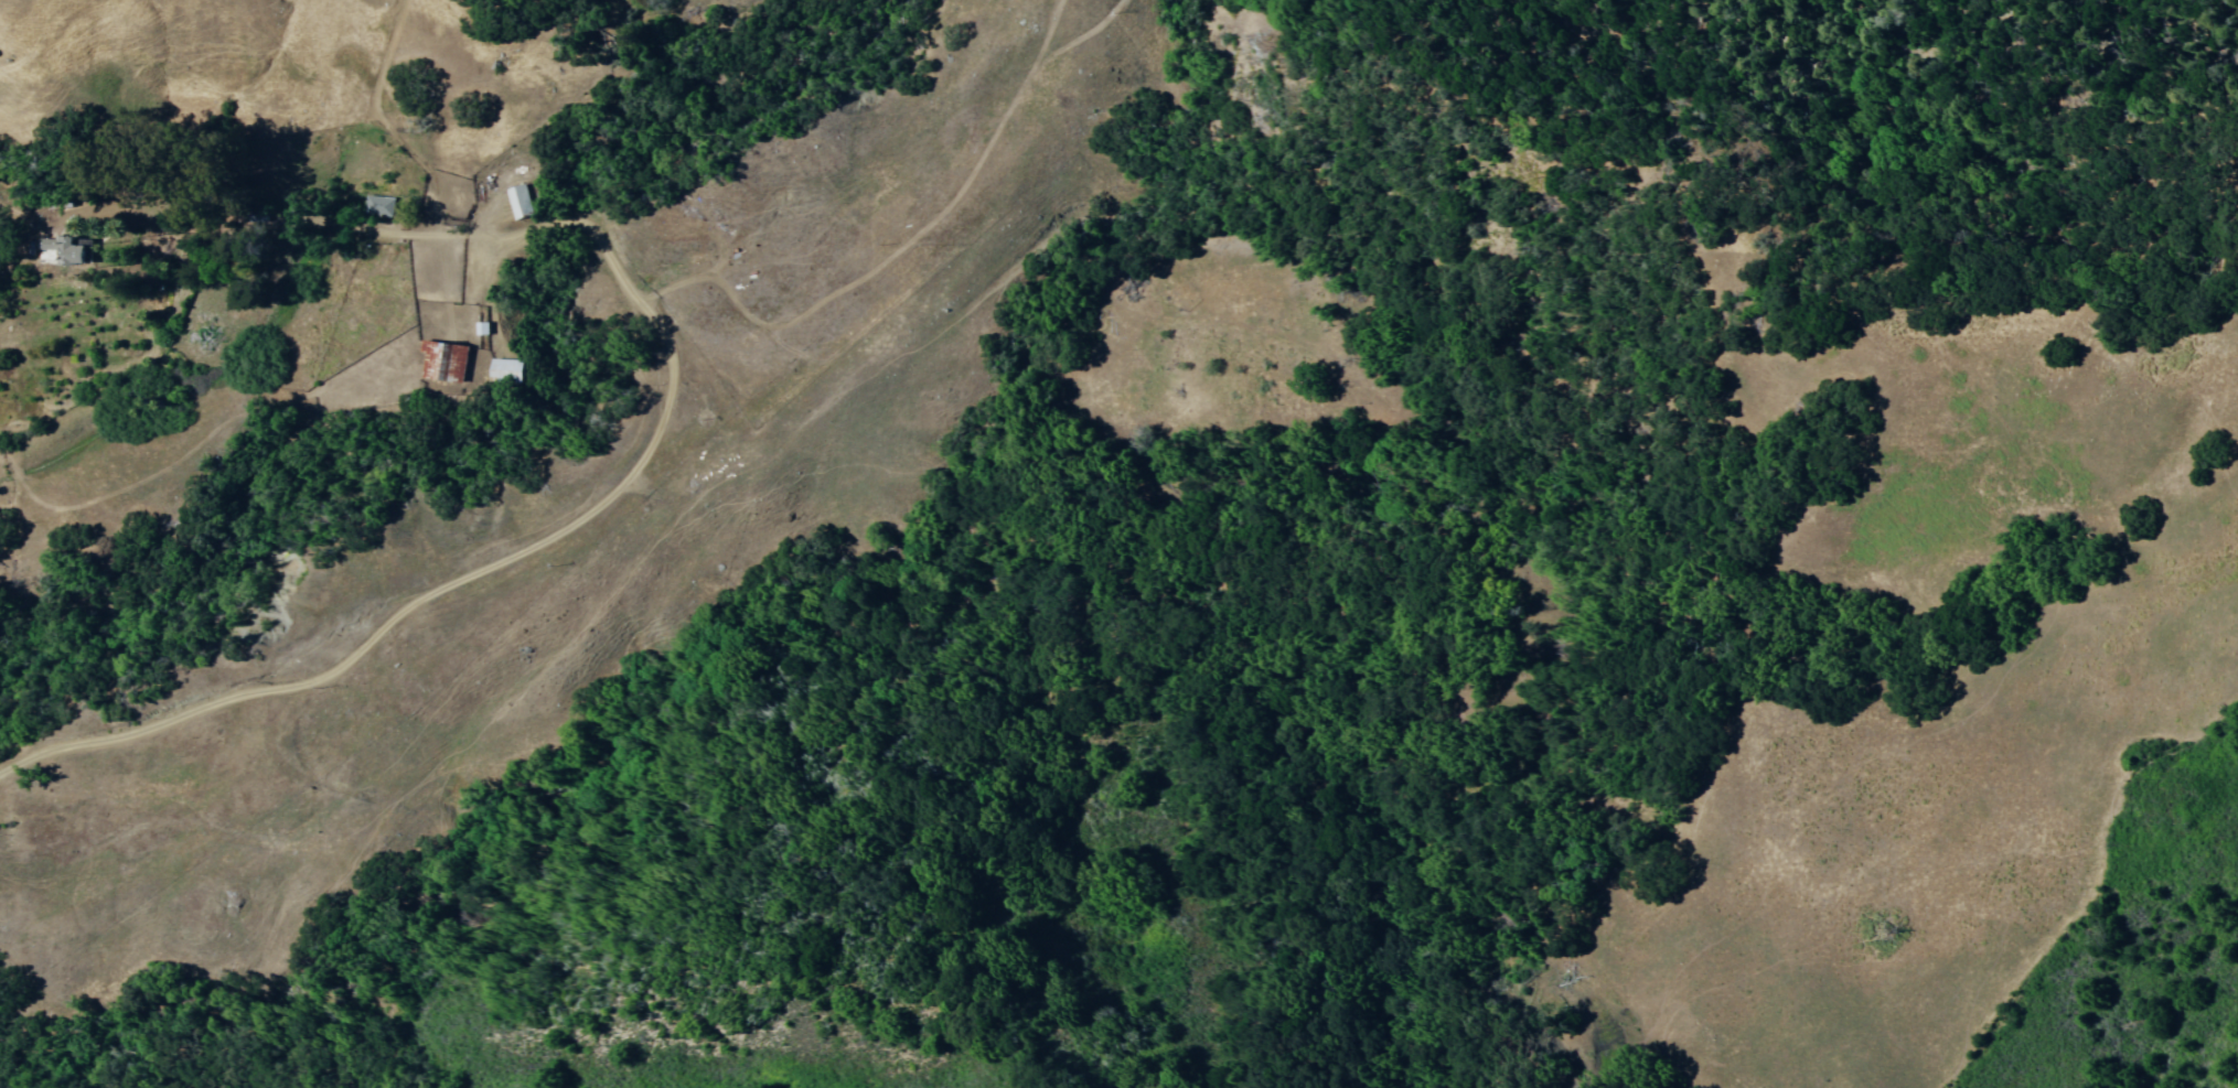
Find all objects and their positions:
building: (525, 198)
building: (385, 207)
building: (68, 249)
building: (489, 326)
building: (449, 359)
building: (514, 371)
road: (620, 477)

